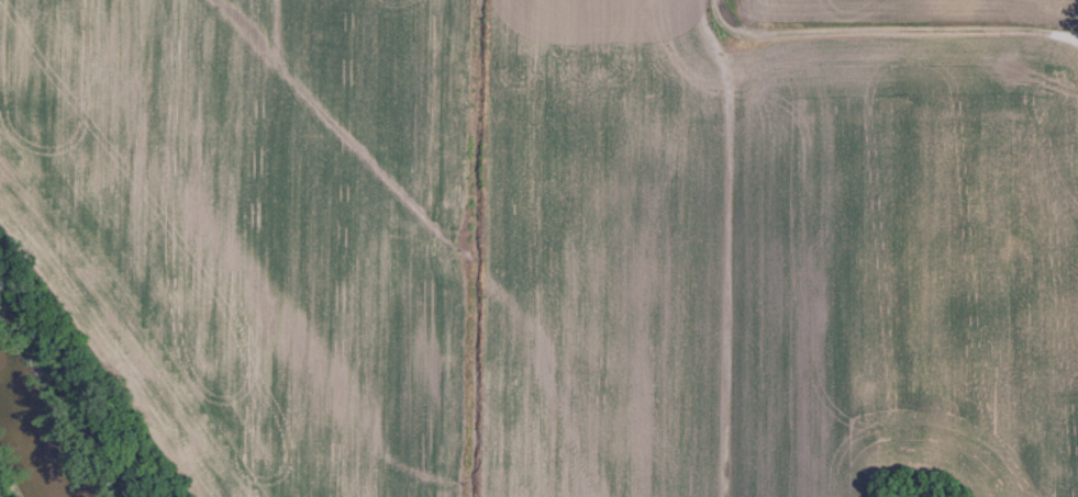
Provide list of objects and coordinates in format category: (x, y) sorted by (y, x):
river: (29, 454)

